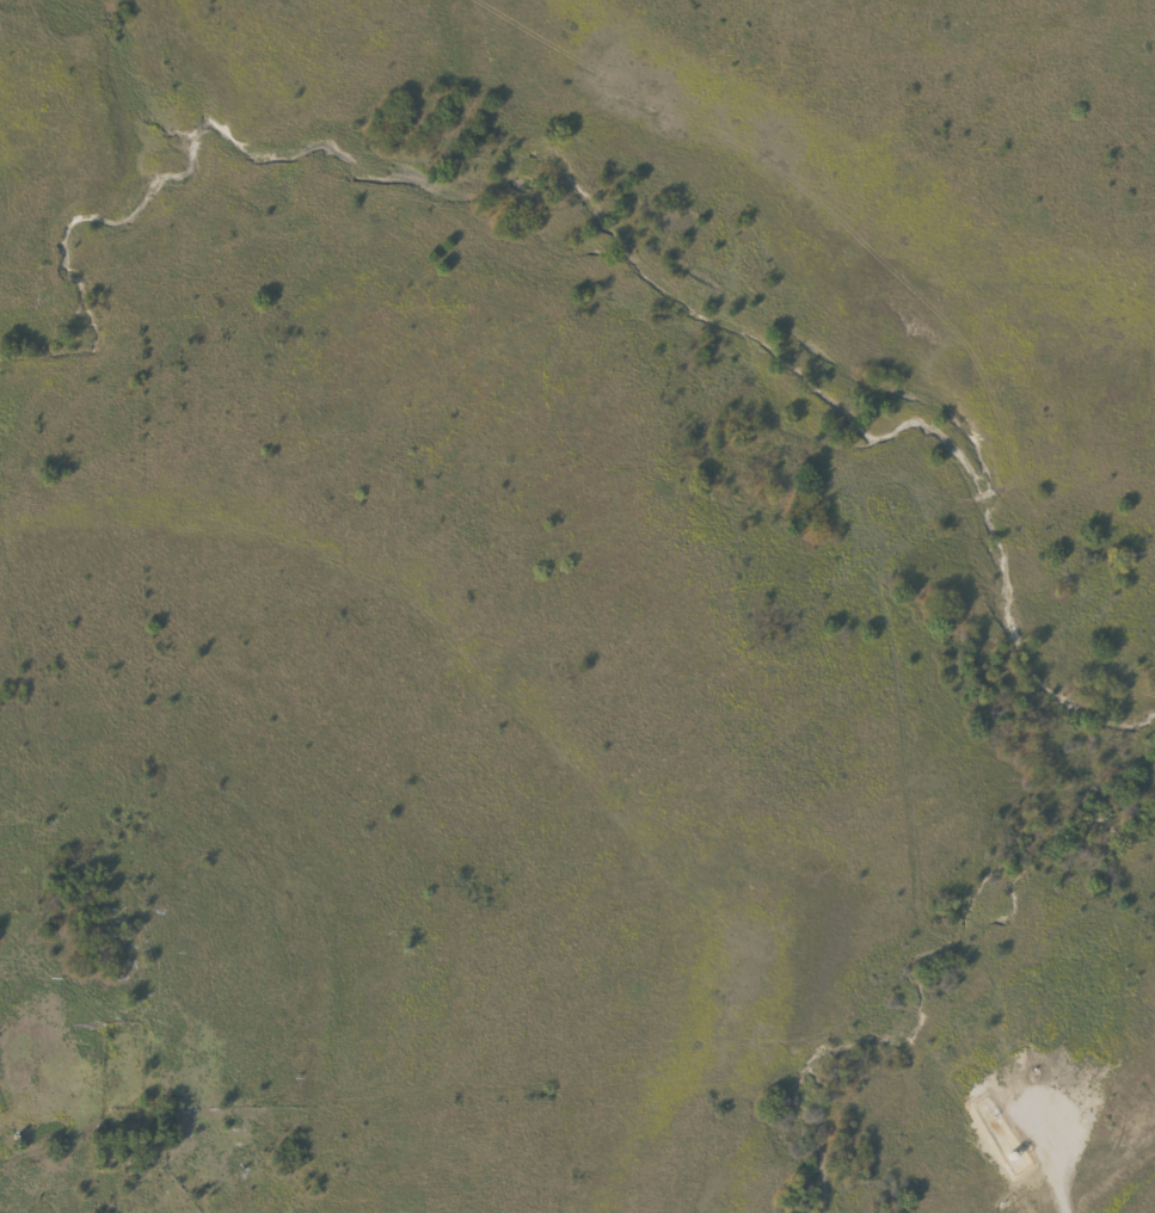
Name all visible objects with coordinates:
road: (1053, 1186)

